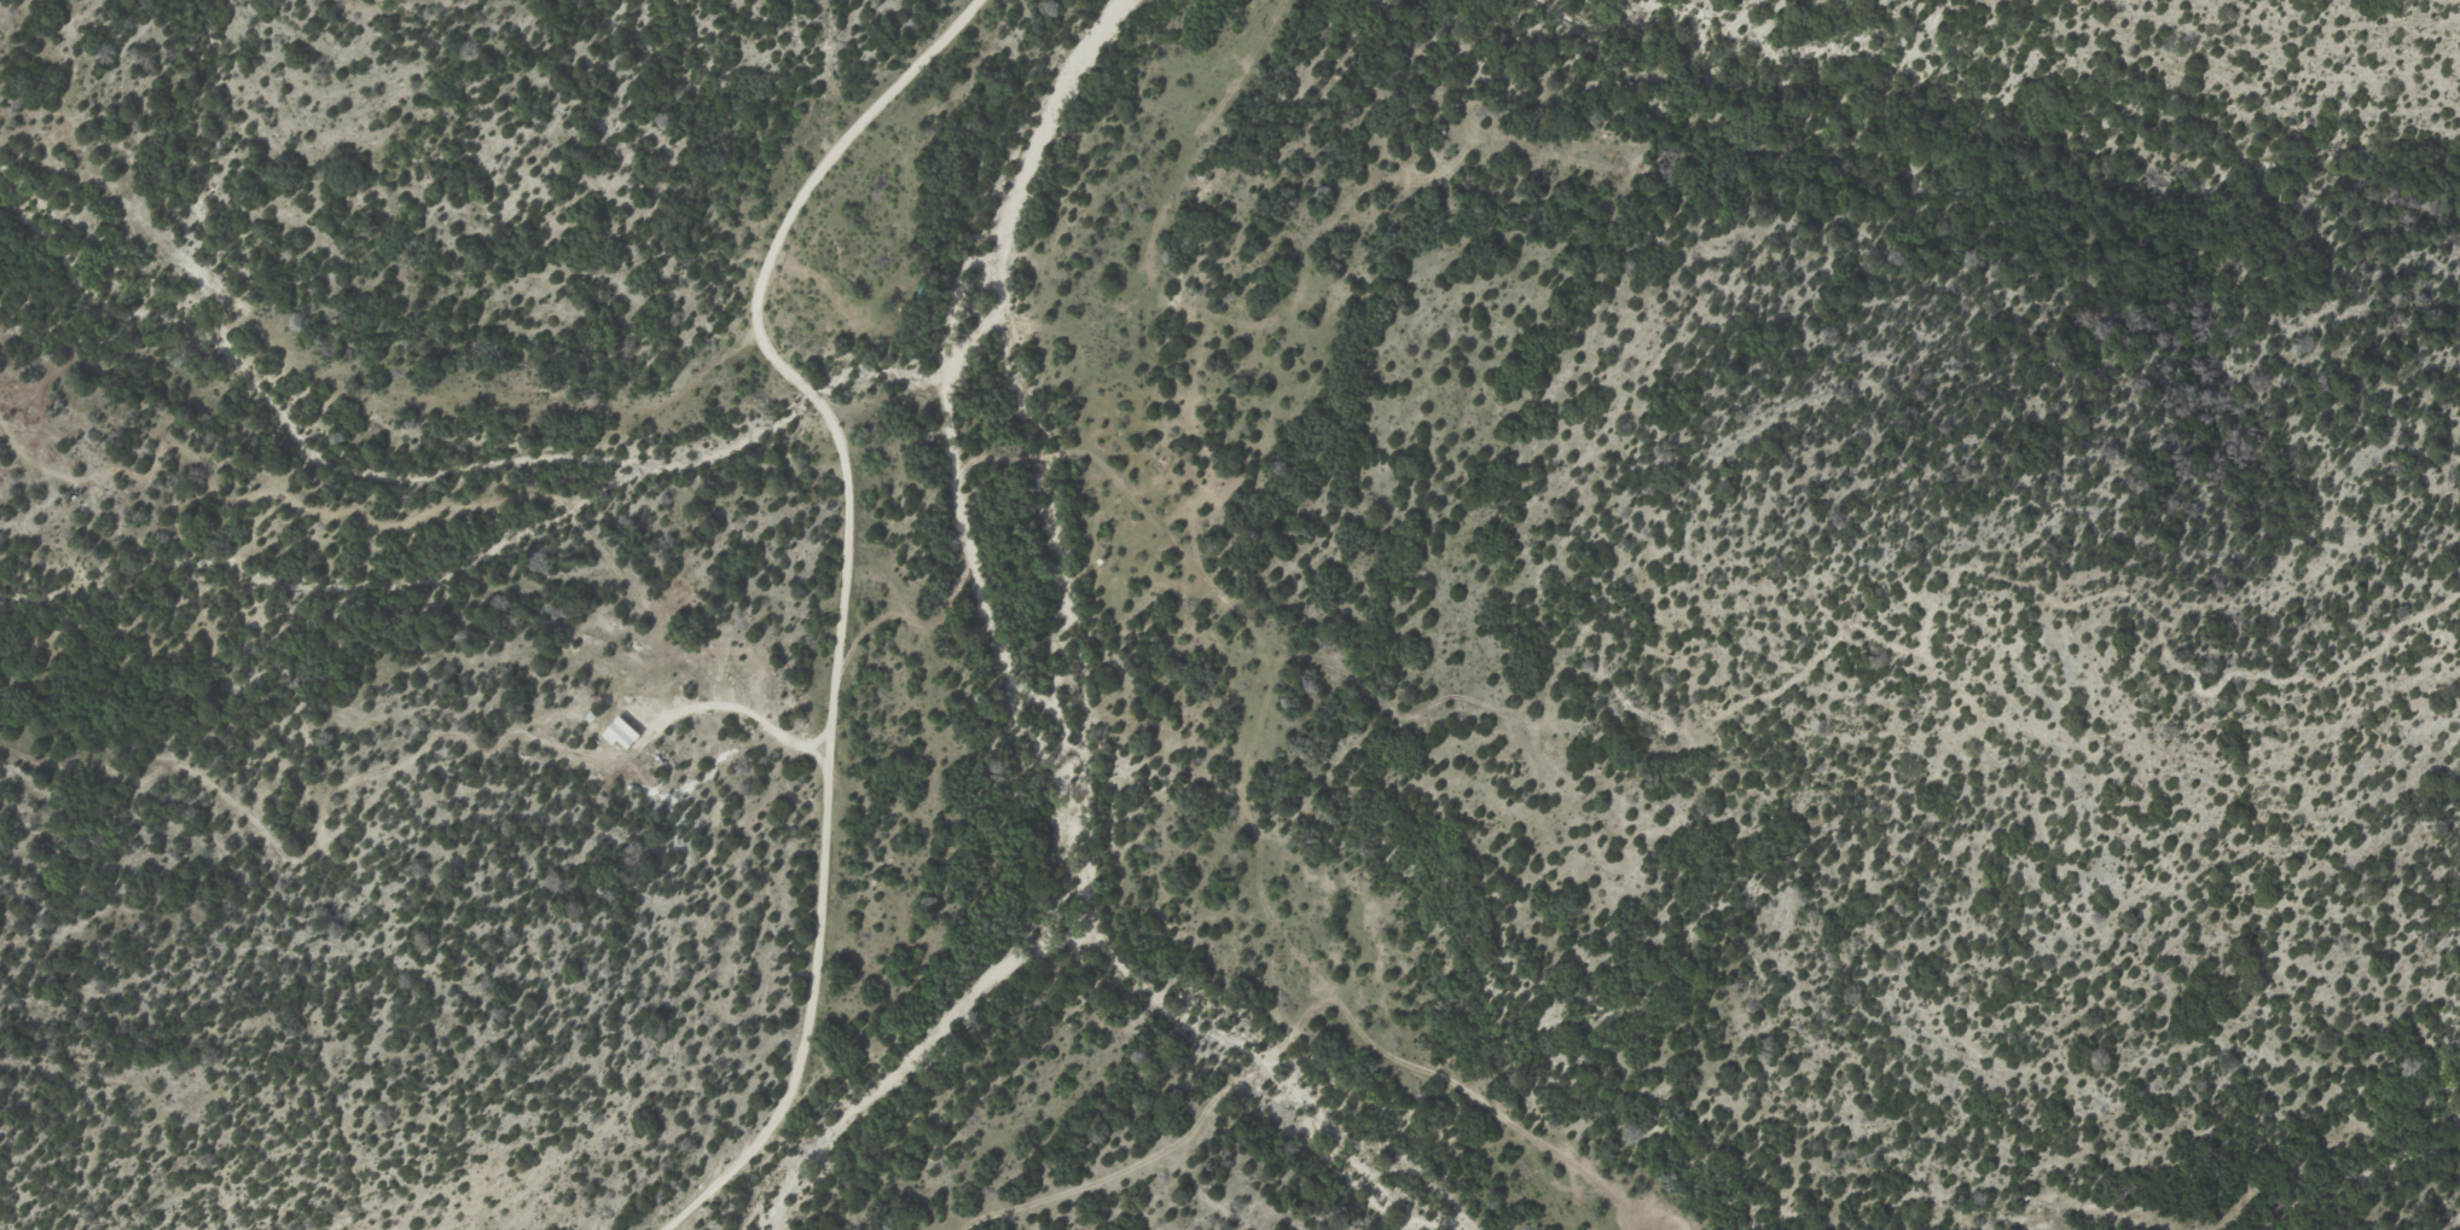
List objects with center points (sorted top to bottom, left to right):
road: (847, 591)

